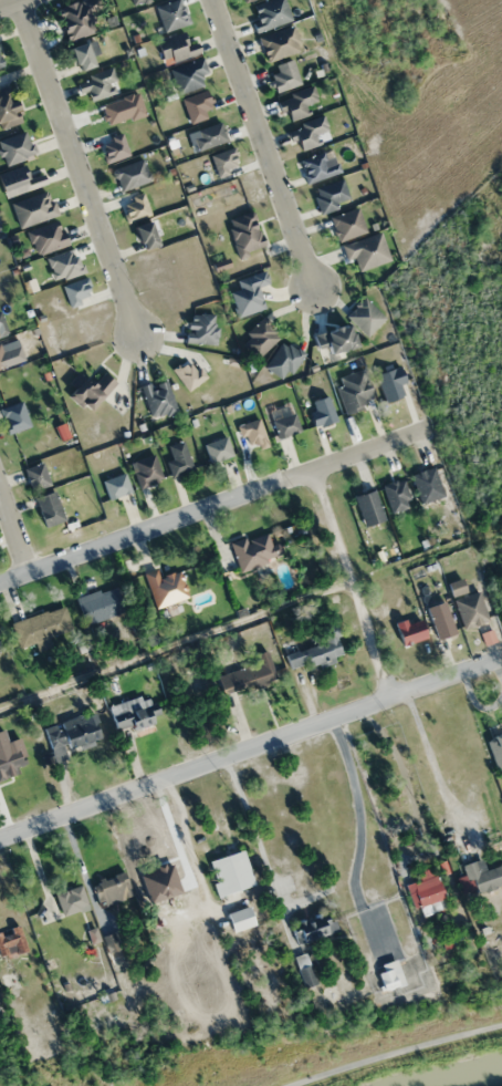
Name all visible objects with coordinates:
building: (244, 0)
building: (137, 1)
road: (8, 2)
building: (269, 13)
building: (171, 14)
building: (76, 17)
building: (278, 43)
building: (175, 46)
building: (80, 55)
building: (0, 62)
building: (188, 74)
building: (283, 75)
building: (96, 84)
building: (296, 103)
building: (196, 105)
building: (8, 111)
building: (307, 132)
building: (208, 135)
road: (262, 144)
building: (14, 147)
building: (223, 161)
building: (316, 167)
road: (76, 168)
building: (130, 174)
building: (18, 180)
building: (330, 195)
building: (32, 208)
building: (346, 224)
building: (244, 232)
building: (143, 235)
building: (45, 237)
building: (366, 250)
building: (364, 316)
building: (2, 327)
building: (200, 328)
building: (259, 337)
building: (334, 339)
park: (460, 359)
building: (1, 360)
building: (282, 360)
building: (389, 383)
building: (87, 390)
building: (353, 390)
building: (157, 397)
building: (321, 410)
building: (13, 417)
building: (284, 425)
building: (217, 448)
building: (177, 457)
building: (145, 469)
building: (34, 476)
building: (114, 485)
building: (426, 485)
building: (395, 495)
road: (212, 503)
building: (367, 507)
building: (48, 508)
road: (14, 526)
building: (255, 548)
road: (352, 581)
building: (165, 587)
building: (101, 603)
building: (470, 610)
building: (440, 619)
building: (40, 627)
building: (410, 631)
road: (176, 643)
building: (0, 648)
building: (315, 650)
building: (247, 674)
building: (133, 711)
building: (74, 731)
road: (250, 746)
building: (496, 749)
building: (10, 754)
building: (482, 876)
building: (233, 885)
building: (111, 889)
building: (426, 894)
building: (70, 899)
building: (174, 922)
building: (312, 927)
building: (11, 940)
building: (306, 973)
building: (387, 975)
road: (393, 1051)

